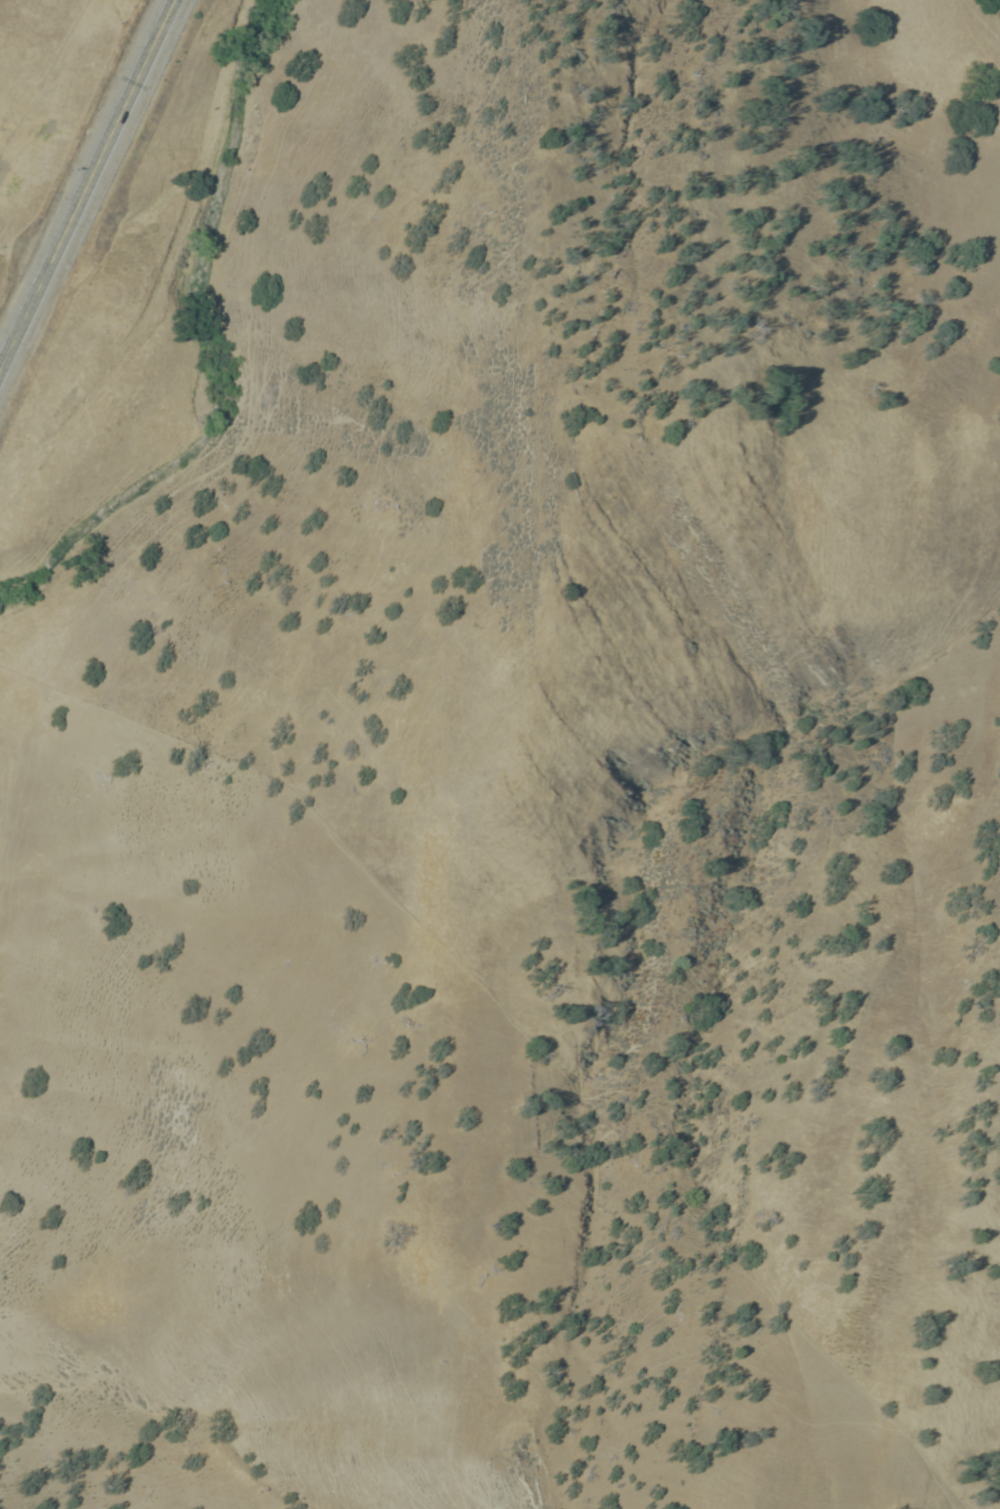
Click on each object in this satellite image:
road: (87, 185)

